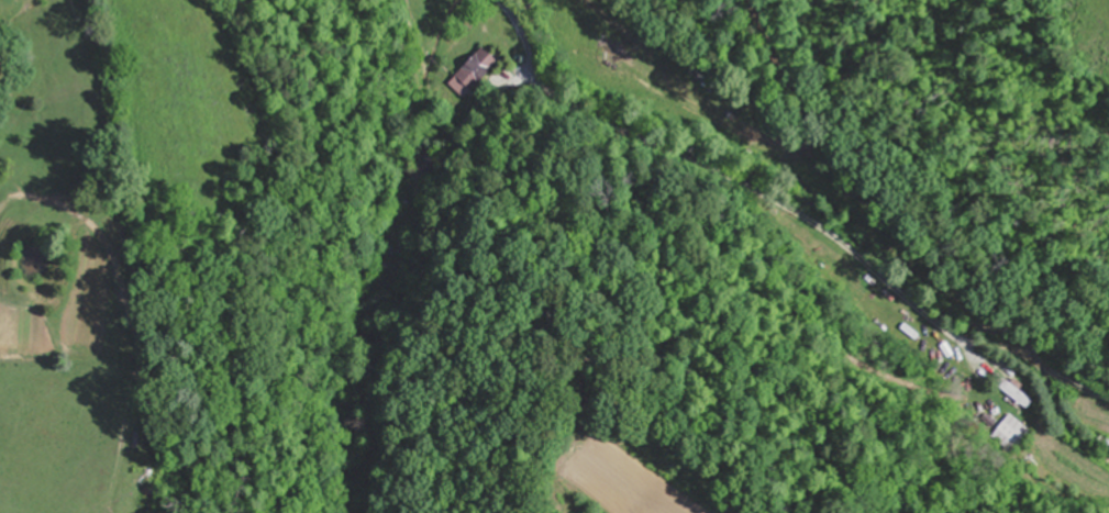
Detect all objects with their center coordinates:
building: (476, 69)
road: (720, 170)
building: (1022, 399)
building: (1011, 432)

